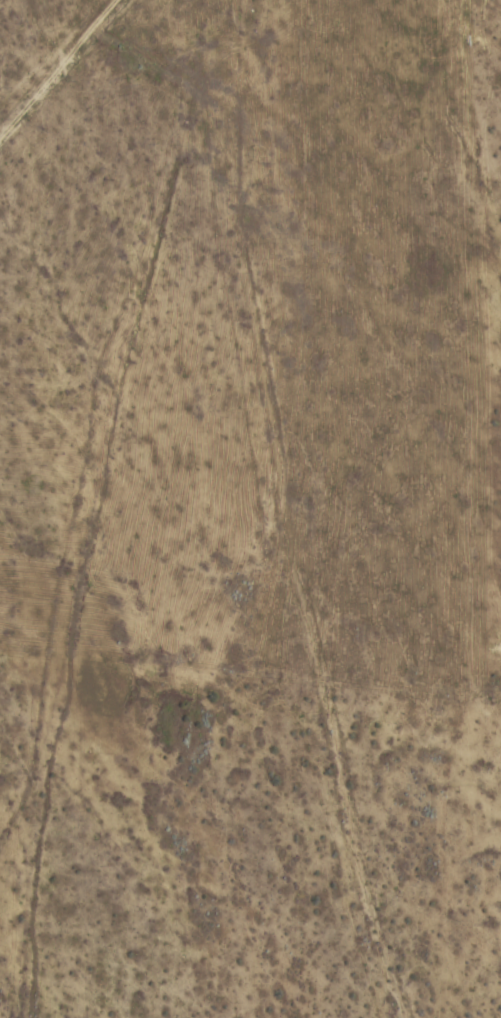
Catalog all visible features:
road: (69, 77)

